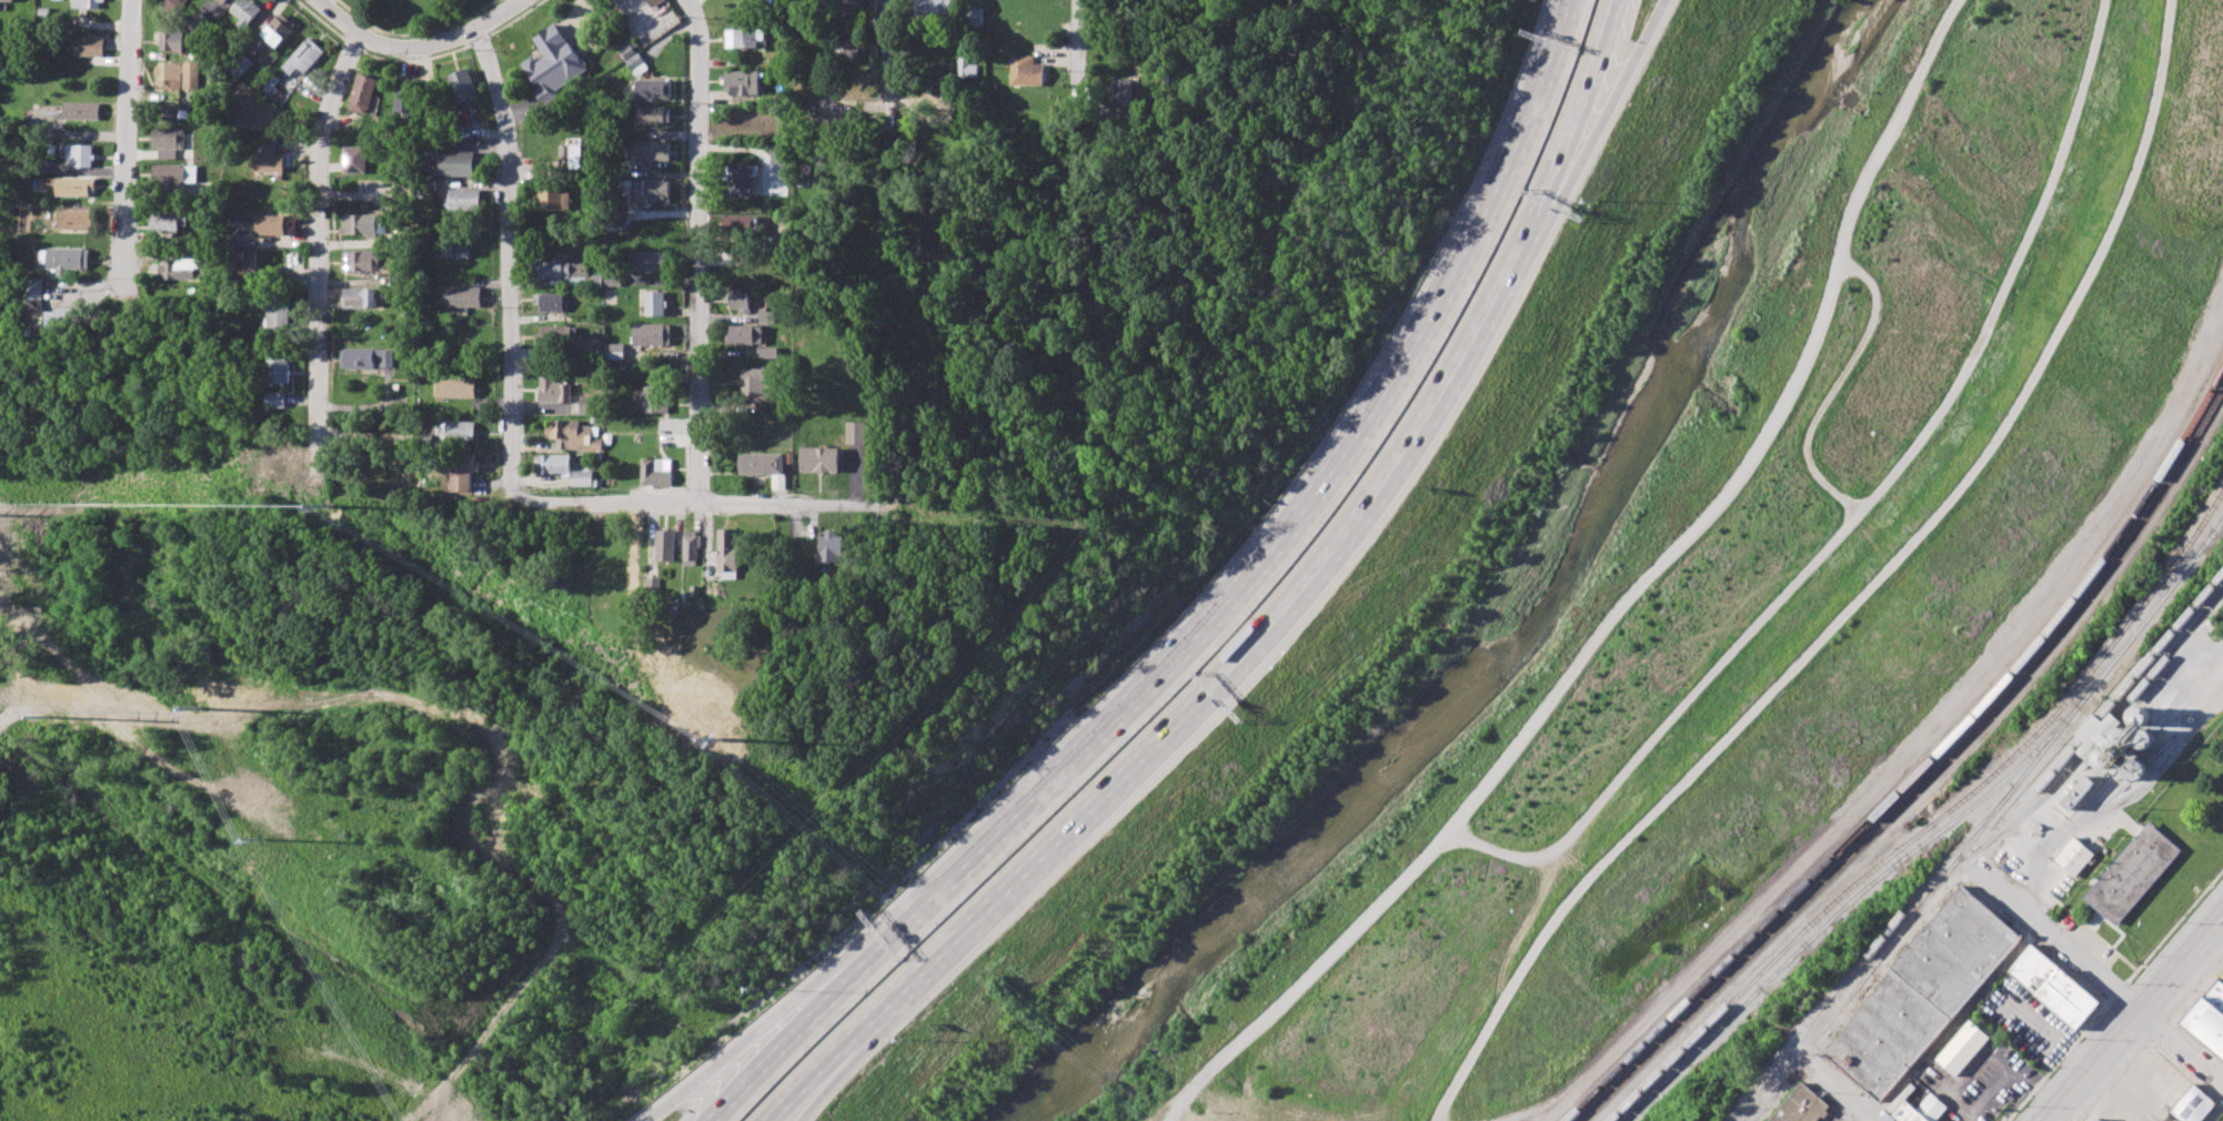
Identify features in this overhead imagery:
building: (7, 0)
building: (223, 1)
building: (654, 2)
building: (87, 3)
building: (173, 3)
building: (851, 7)
building: (932, 8)
building: (247, 10)
building: (974, 16)
road: (1658, 22)
building: (201, 23)
building: (276, 34)
building: (741, 38)
building: (172, 40)
road: (421, 42)
building: (88, 47)
road: (1079, 52)
building: (304, 57)
building: (633, 59)
building: (554, 63)
building: (966, 68)
building: (1026, 71)
road: (892, 72)
building: (179, 74)
building: (742, 82)
building: (463, 87)
building: (652, 89)
building: (1123, 91)
building: (362, 93)
building: (405, 99)
road: (1578, 104)
building: (83, 111)
building: (652, 114)
road: (1591, 125)
building: (170, 141)
building: (652, 150)
road: (134, 153)
building: (778, 153)
building: (83, 154)
building: (573, 156)
building: (354, 159)
building: (271, 160)
building: (461, 163)
building: (177, 175)
building: (741, 180)
building: (79, 186)
building: (652, 189)
building: (464, 200)
building: (554, 200)
building: (79, 220)
building: (173, 222)
building: (743, 223)
building: (270, 224)
building: (363, 224)
road: (702, 244)
road: (323, 248)
building: (455, 249)
road: (514, 257)
building: (72, 259)
building: (361, 260)
building: (249, 261)
building: (652, 261)
building: (184, 269)
building: (562, 269)
building: (396, 275)
building: (41, 289)
building: (463, 296)
building: (361, 297)
building: (740, 301)
building: (550, 302)
building: (655, 303)
building: (280, 309)
building: (767, 316)
building: (63, 319)
building: (557, 333)
building: (652, 334)
building: (745, 334)
building: (614, 351)
building: (767, 352)
building: (366, 357)
building: (280, 372)
building: (756, 382)
building: (456, 388)
building: (553, 390)
building: (655, 398)
building: (278, 401)
building: (587, 404)
road: (998, 427)
building: (455, 431)
building: (856, 433)
building: (572, 435)
road: (892, 443)
building: (818, 459)
building: (553, 463)
building: (761, 463)
building: (462, 471)
building: (655, 472)
building: (582, 478)
road: (760, 492)
road: (56, 505)
road: (1292, 535)
building: (665, 545)
building: (831, 546)
building: (691, 547)
building: (726, 549)
river: (1527, 617)
road: (1231, 657)
road: (2195, 685)
building: (2139, 717)
building: (2140, 741)
road: (1909, 745)
railway: (1922, 768)
building: (2134, 771)
railway: (1930, 777)
building: (2075, 794)
railway: (1935, 821)
railway: (1940, 831)
building: (2074, 855)
building: (2132, 876)
road: (2064, 945)
building: (2054, 989)
building: (1921, 993)
building: (2207, 1019)
road: (2141, 1024)
road: (771, 1036)
road: (792, 1046)
building: (1963, 1047)
road: (2185, 1049)
road: (804, 1080)
road: (817, 1080)
road: (1853, 1092)
building: (2192, 1104)
building: (1801, 1107)
road: (663, 1111)
road: (2214, 1111)
building: (1907, 1114)
building: (2098, 1119)

